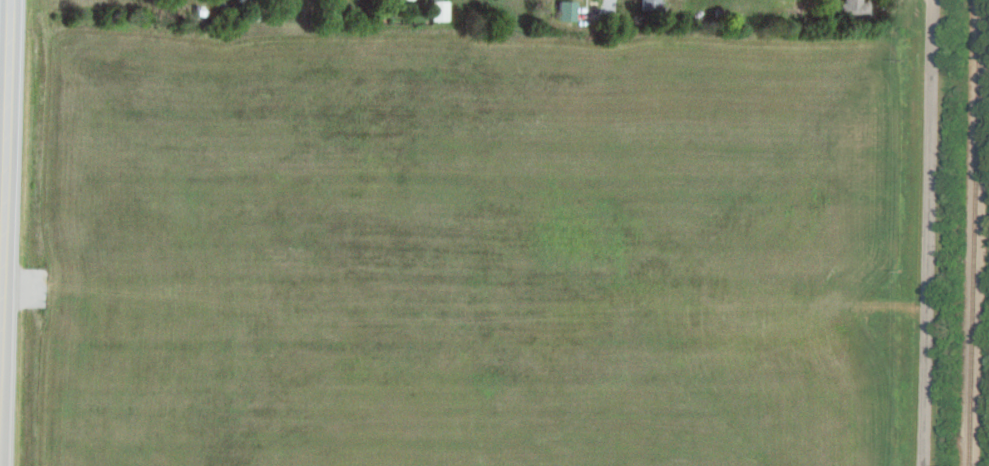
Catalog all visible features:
road: (613, 0)
building: (648, 6)
building: (852, 9)
building: (438, 10)
building: (564, 11)
road: (6, 203)
railway: (971, 232)
road: (927, 233)

